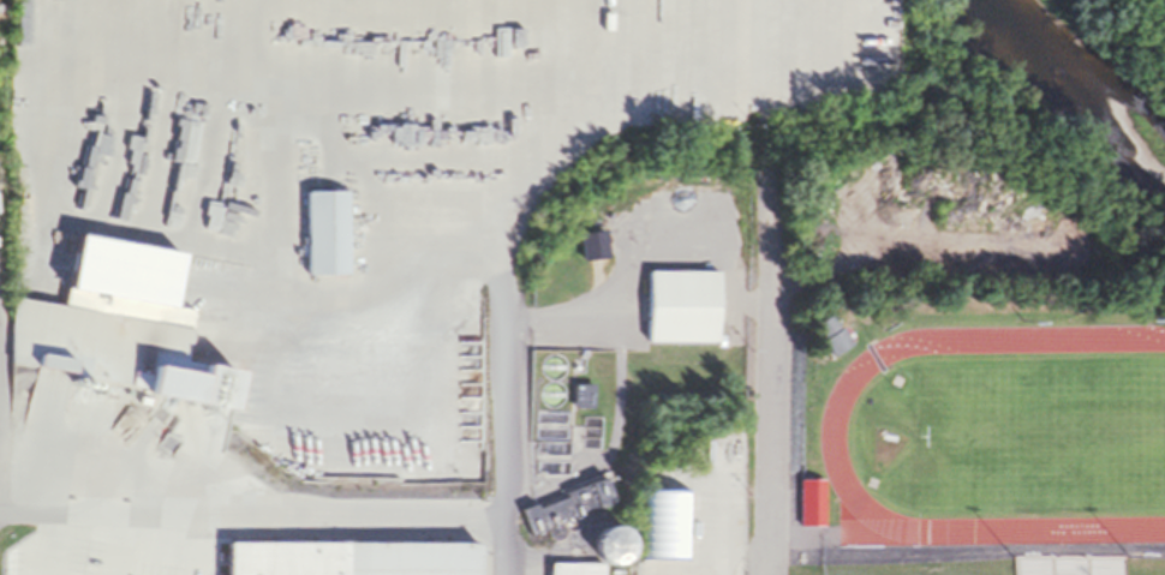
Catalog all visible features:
park: (1154, 12)
building: (0, 16)
building: (35, 19)
building: (65, 20)
building: (98, 32)
river: (1123, 58)
building: (19, 71)
building: (323, 232)
building: (589, 245)
building: (679, 306)
building: (101, 319)
building: (828, 335)
road: (771, 364)
building: (581, 395)
park: (1041, 435)
building: (811, 503)
building: (566, 505)
building: (663, 523)
road: (250, 526)
building: (613, 545)
road: (500, 552)
building: (349, 558)
building: (1068, 564)
building: (23, 568)
building: (573, 568)

